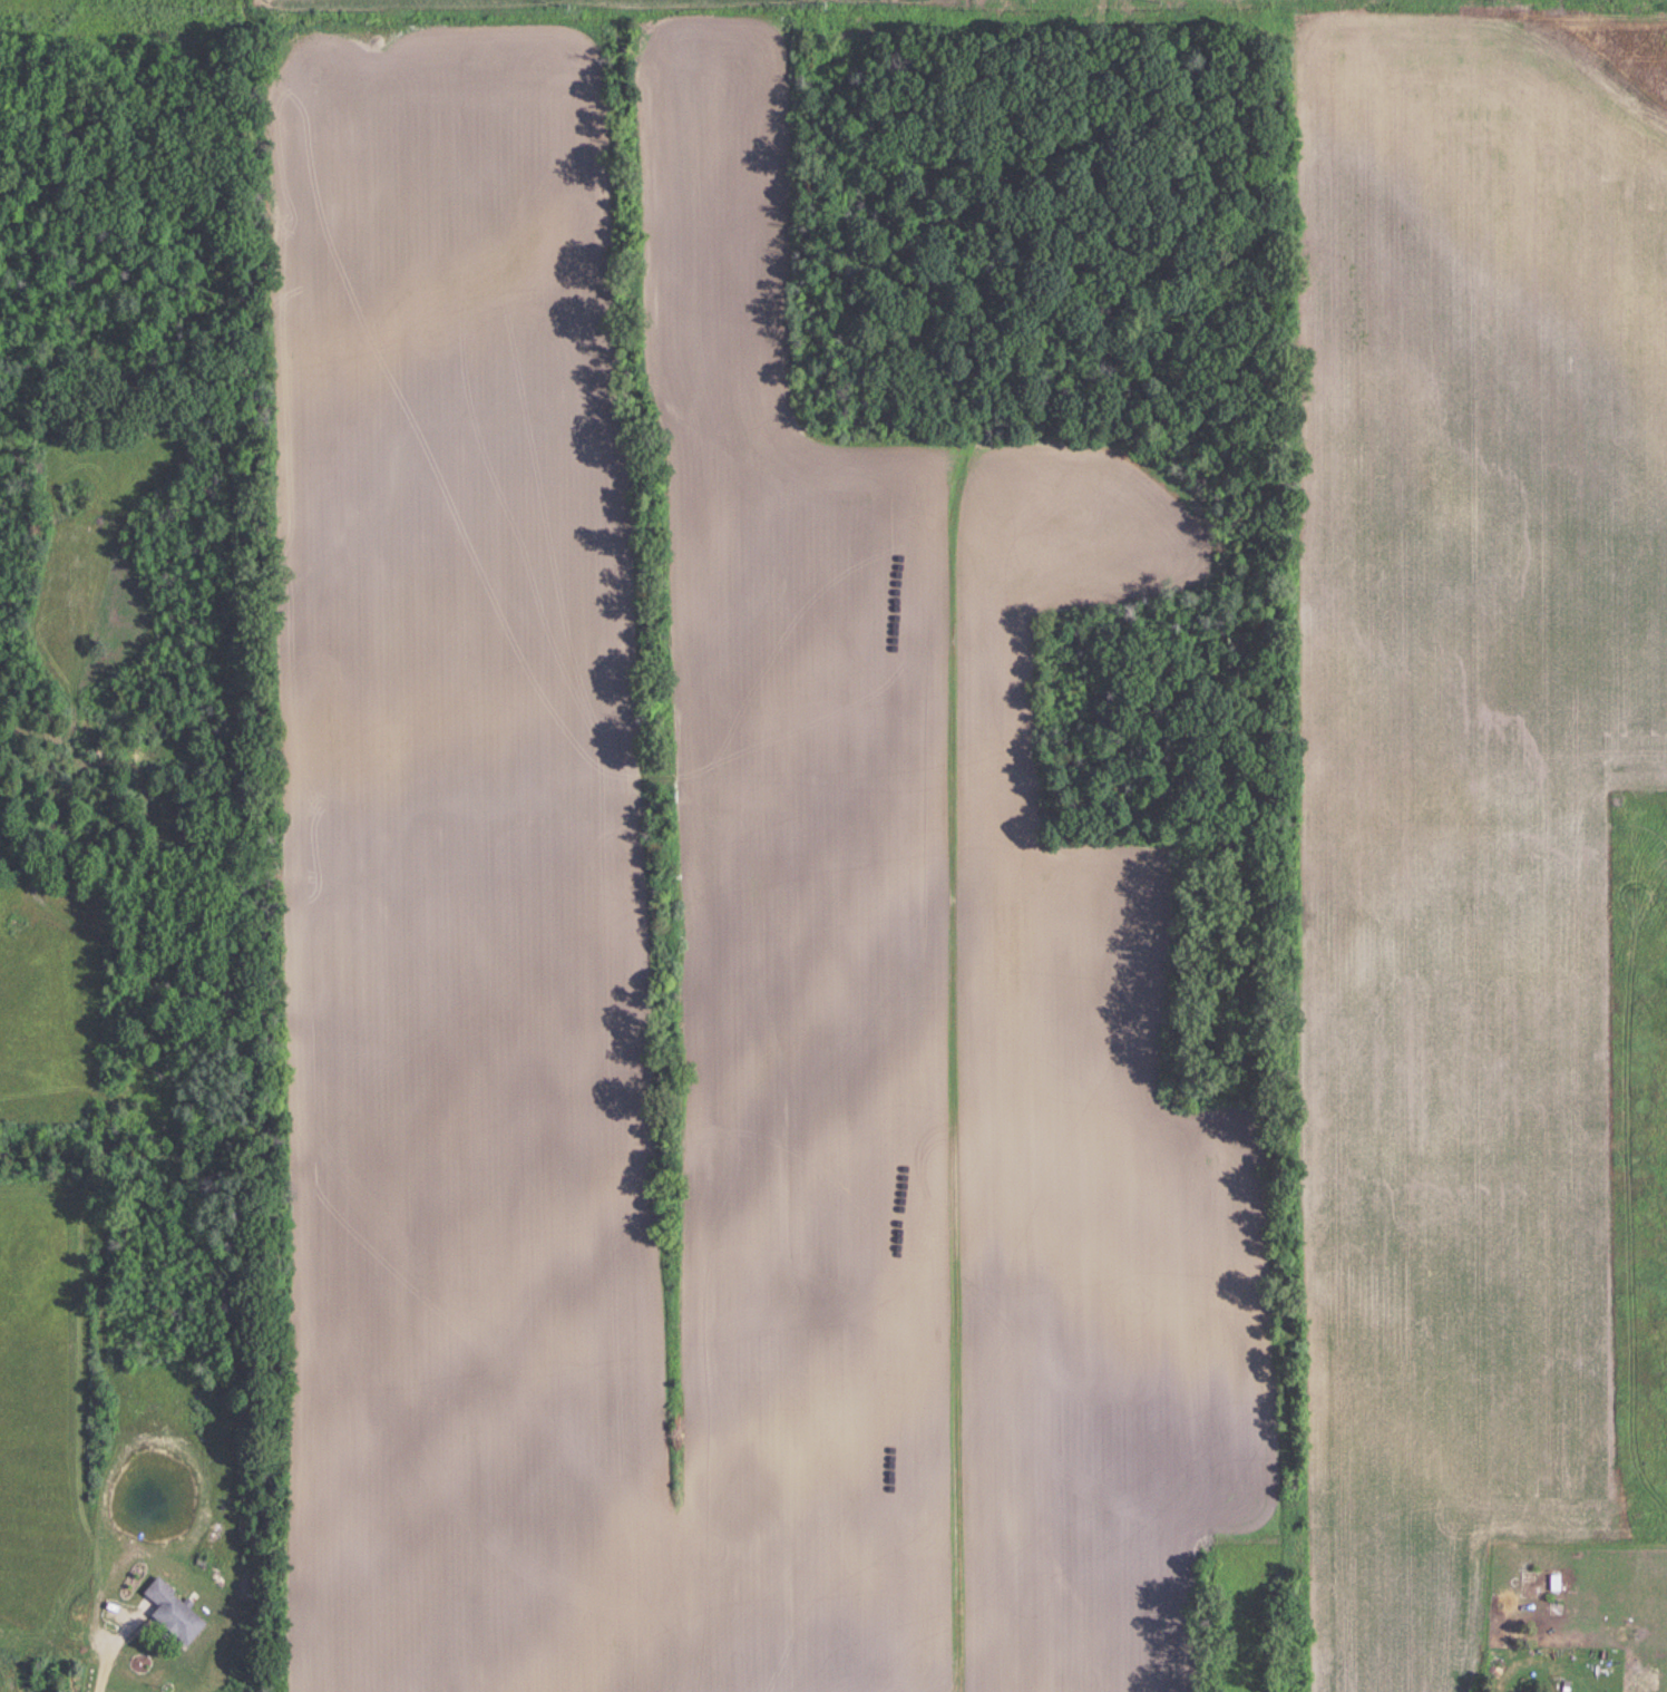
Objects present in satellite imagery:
building: (170, 1614)
road: (98, 1661)

